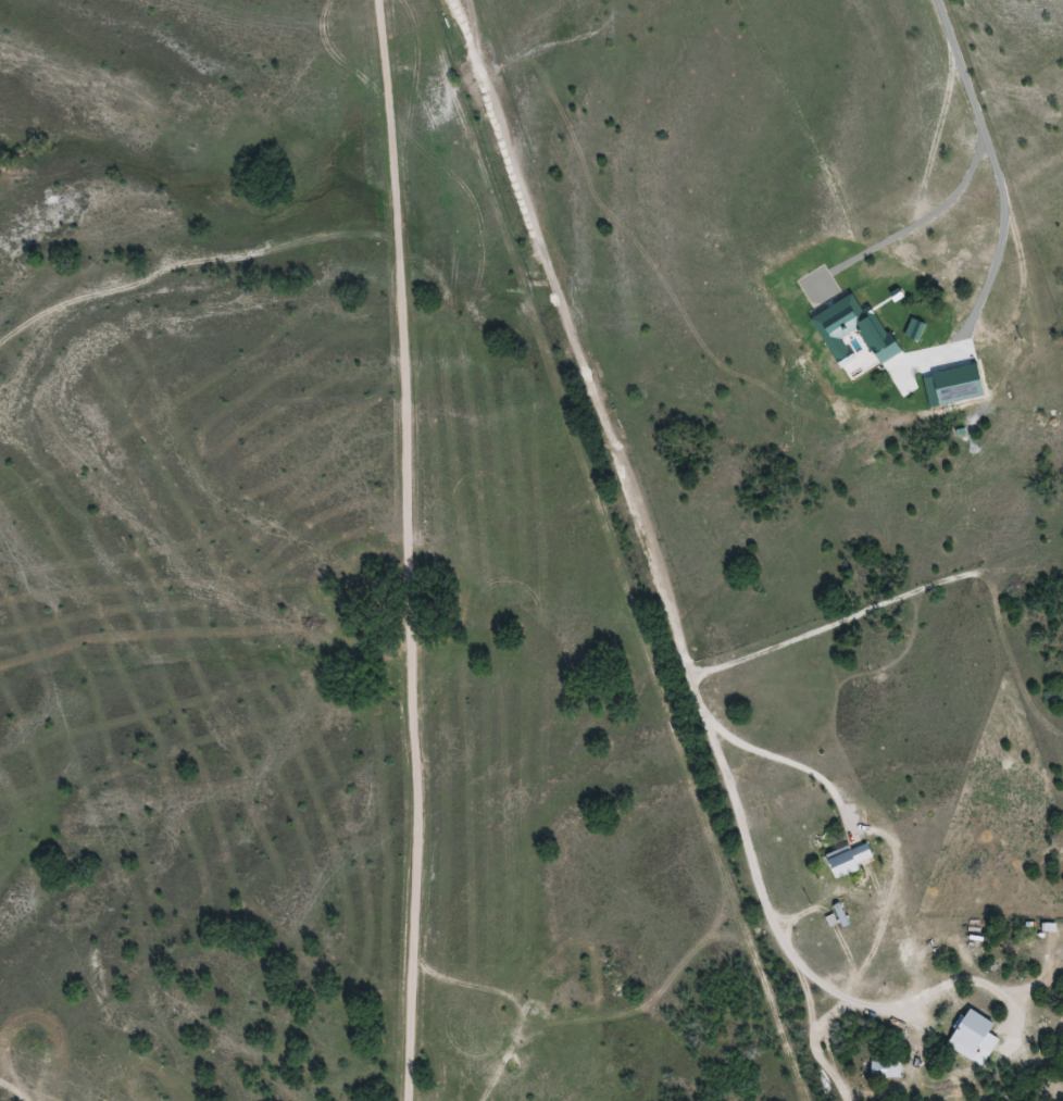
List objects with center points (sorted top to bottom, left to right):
road: (634, 512)
road: (405, 550)
building: (843, 860)
road: (825, 1019)
building: (967, 1035)
building: (881, 1069)

